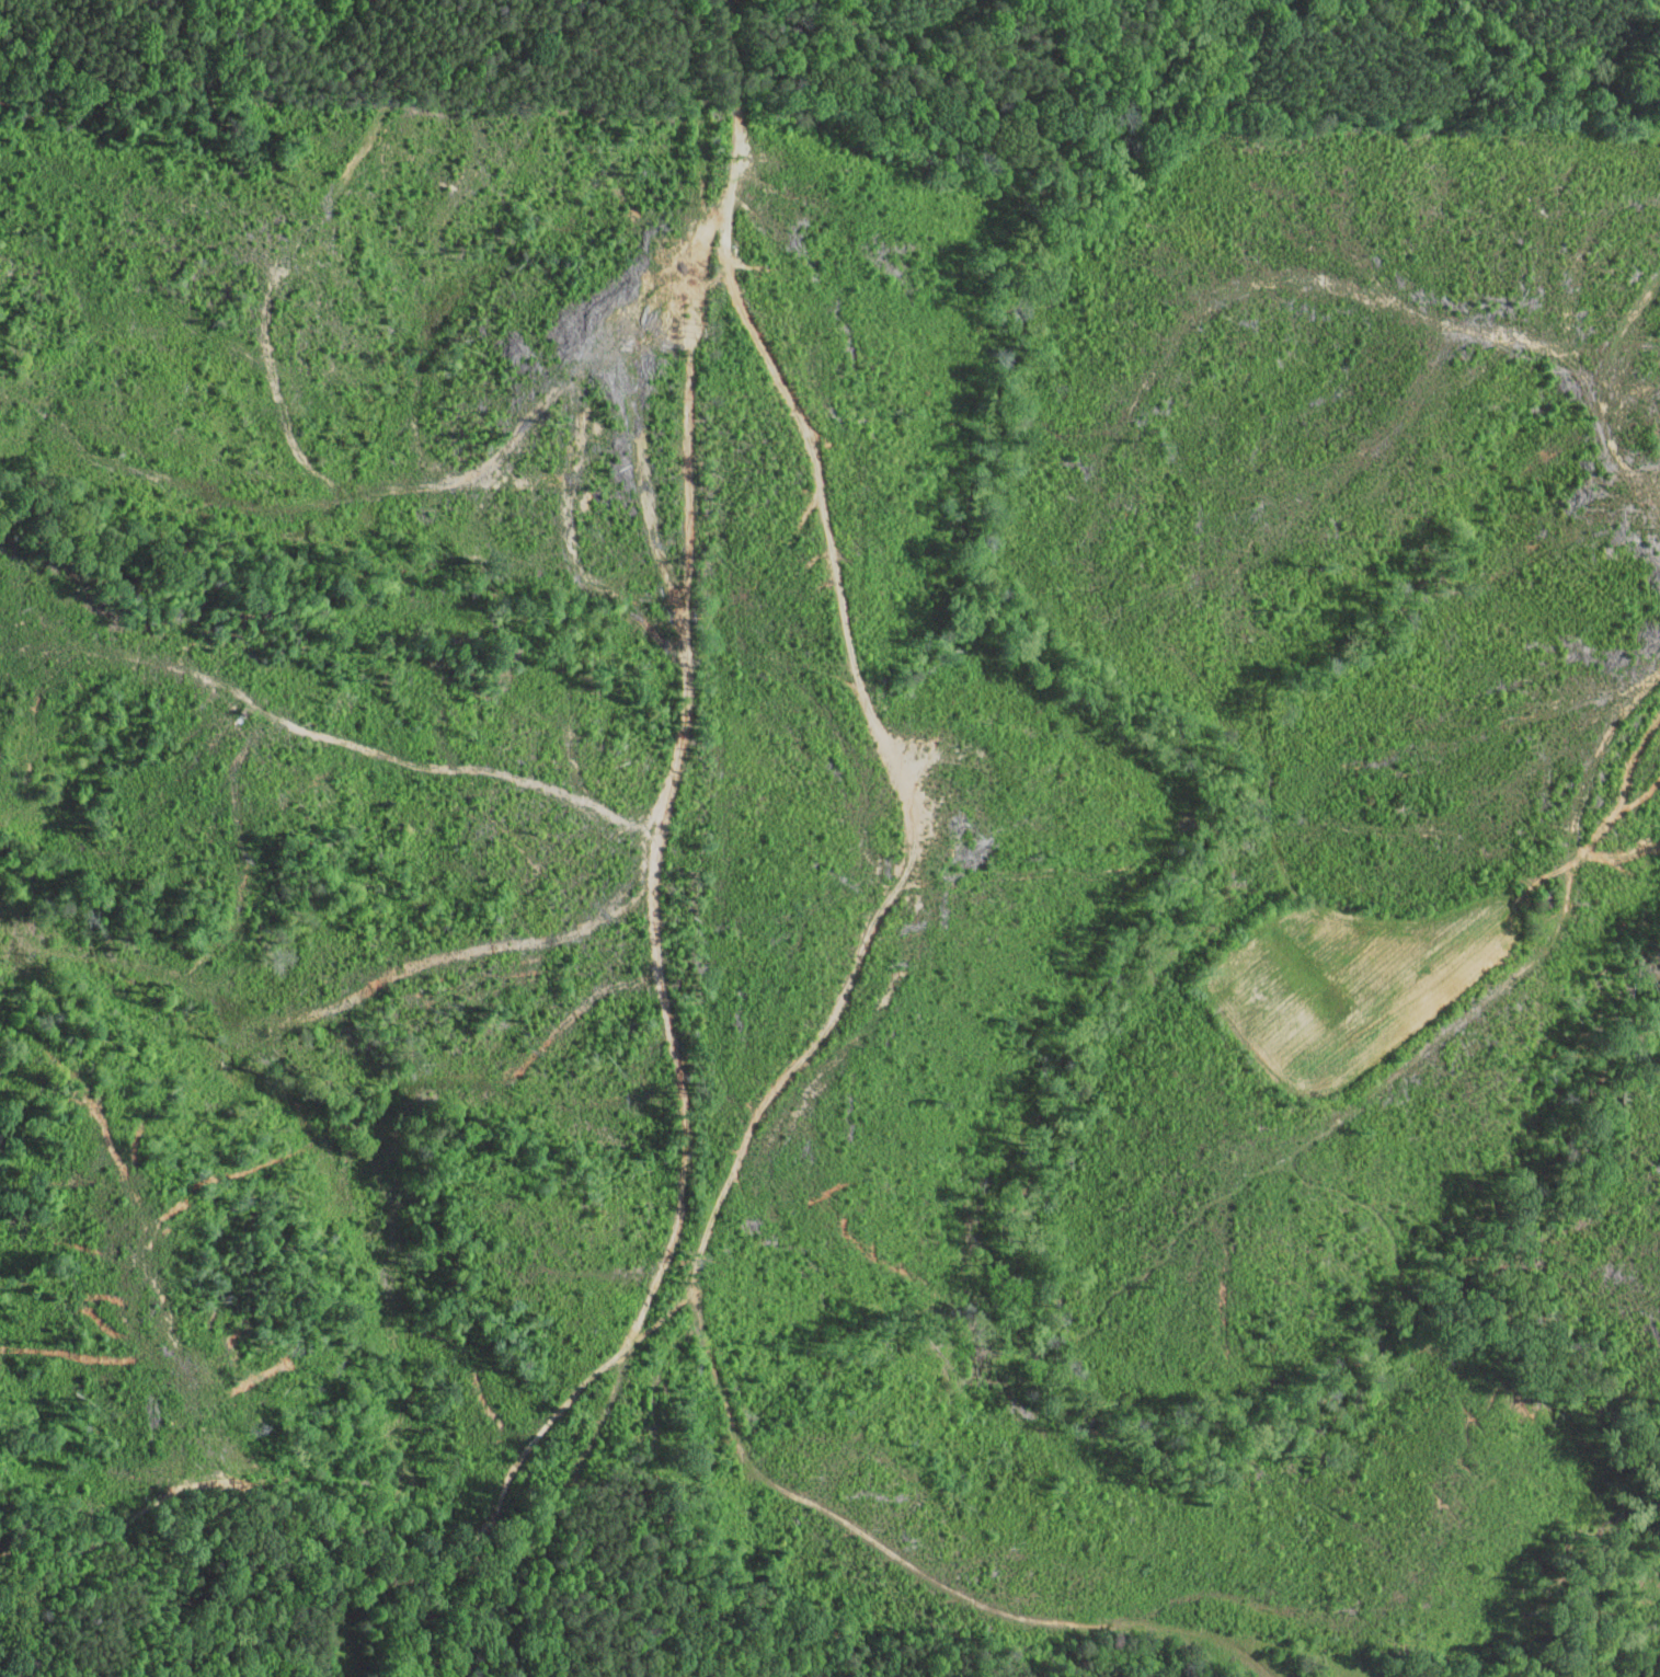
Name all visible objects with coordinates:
road: (735, 101)

